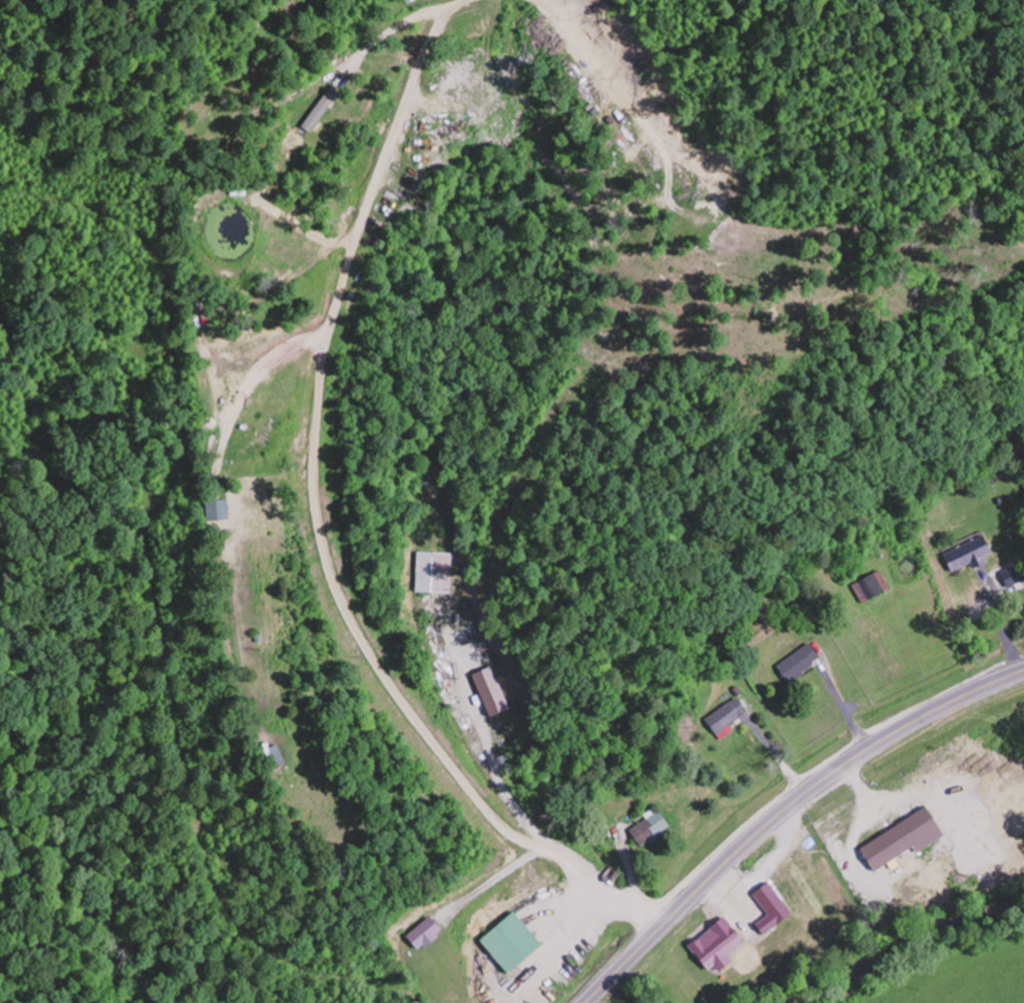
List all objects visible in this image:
building: (968, 553)
building: (1013, 575)
building: (872, 586)
building: (802, 662)
building: (729, 714)
road: (785, 810)
building: (652, 828)
building: (905, 838)
building: (737, 939)
building: (699, 983)

